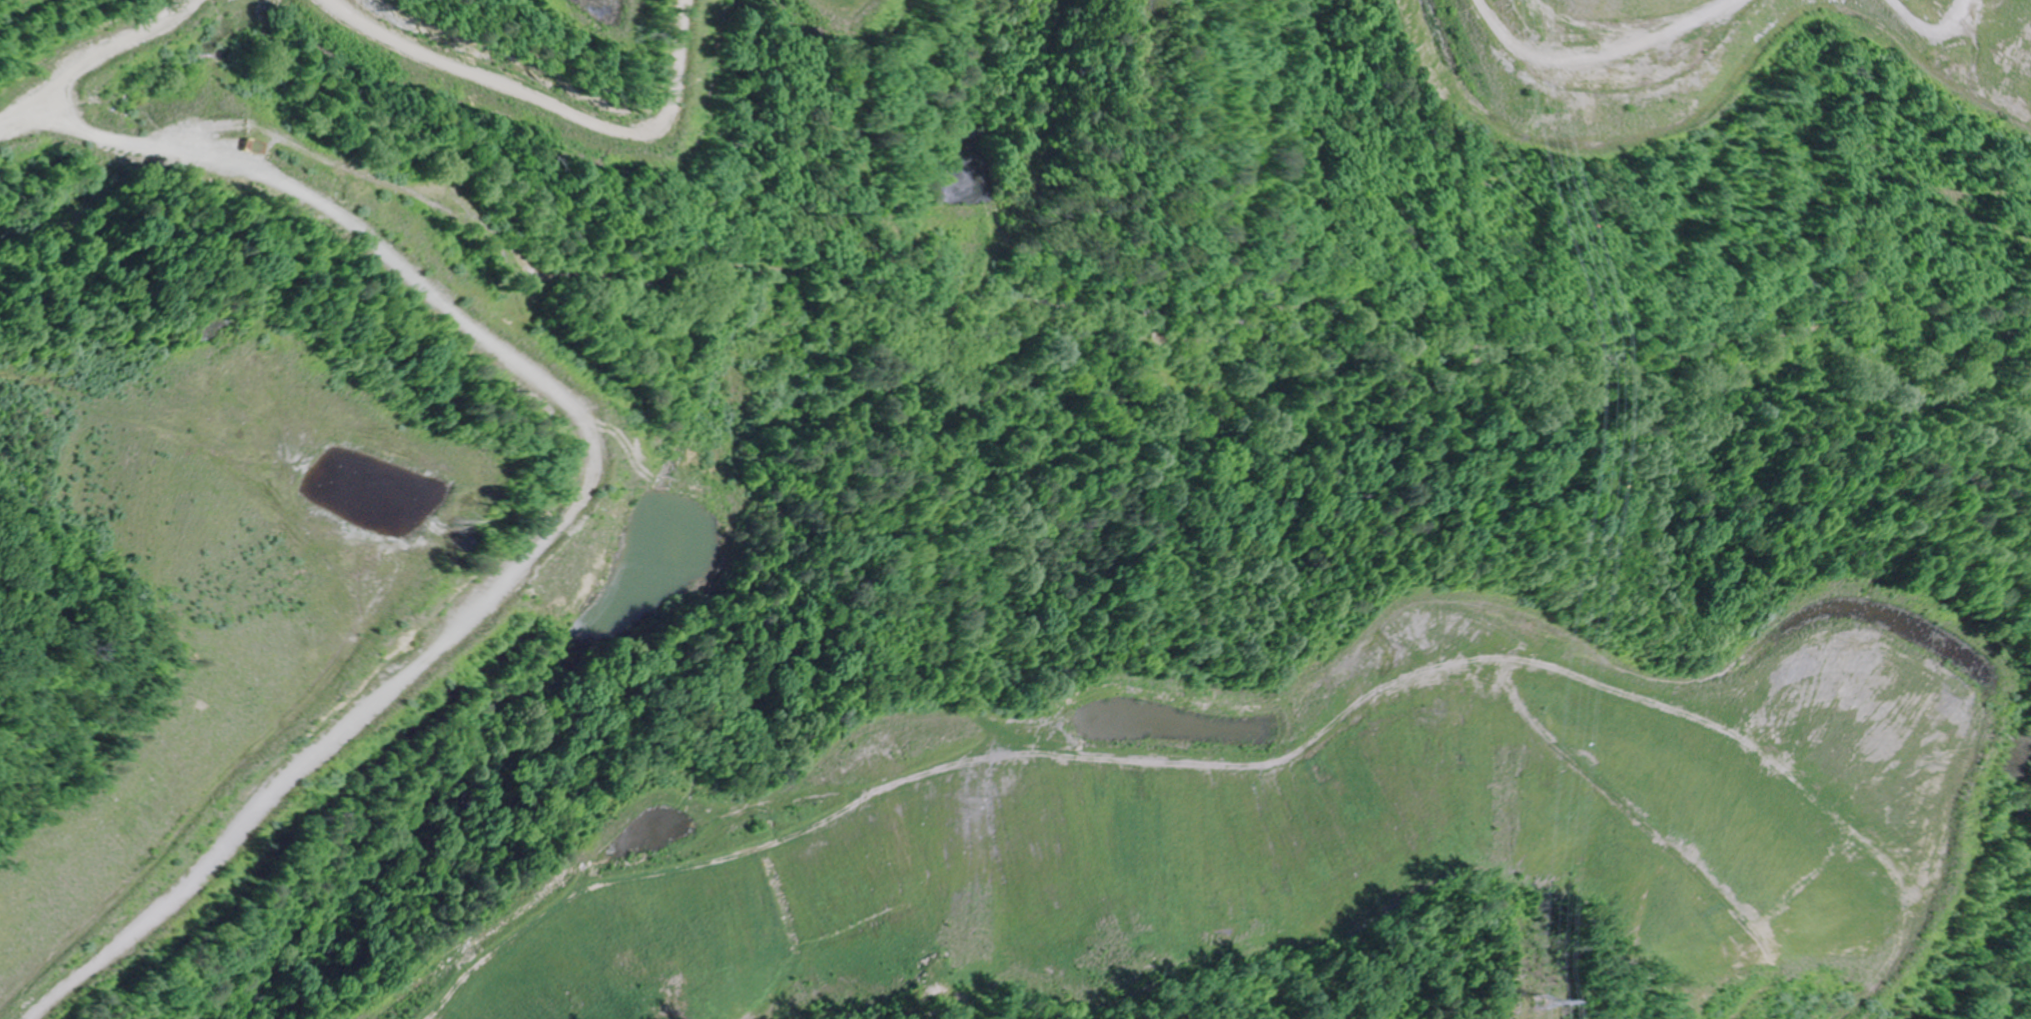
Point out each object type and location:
road: (996, 357)

